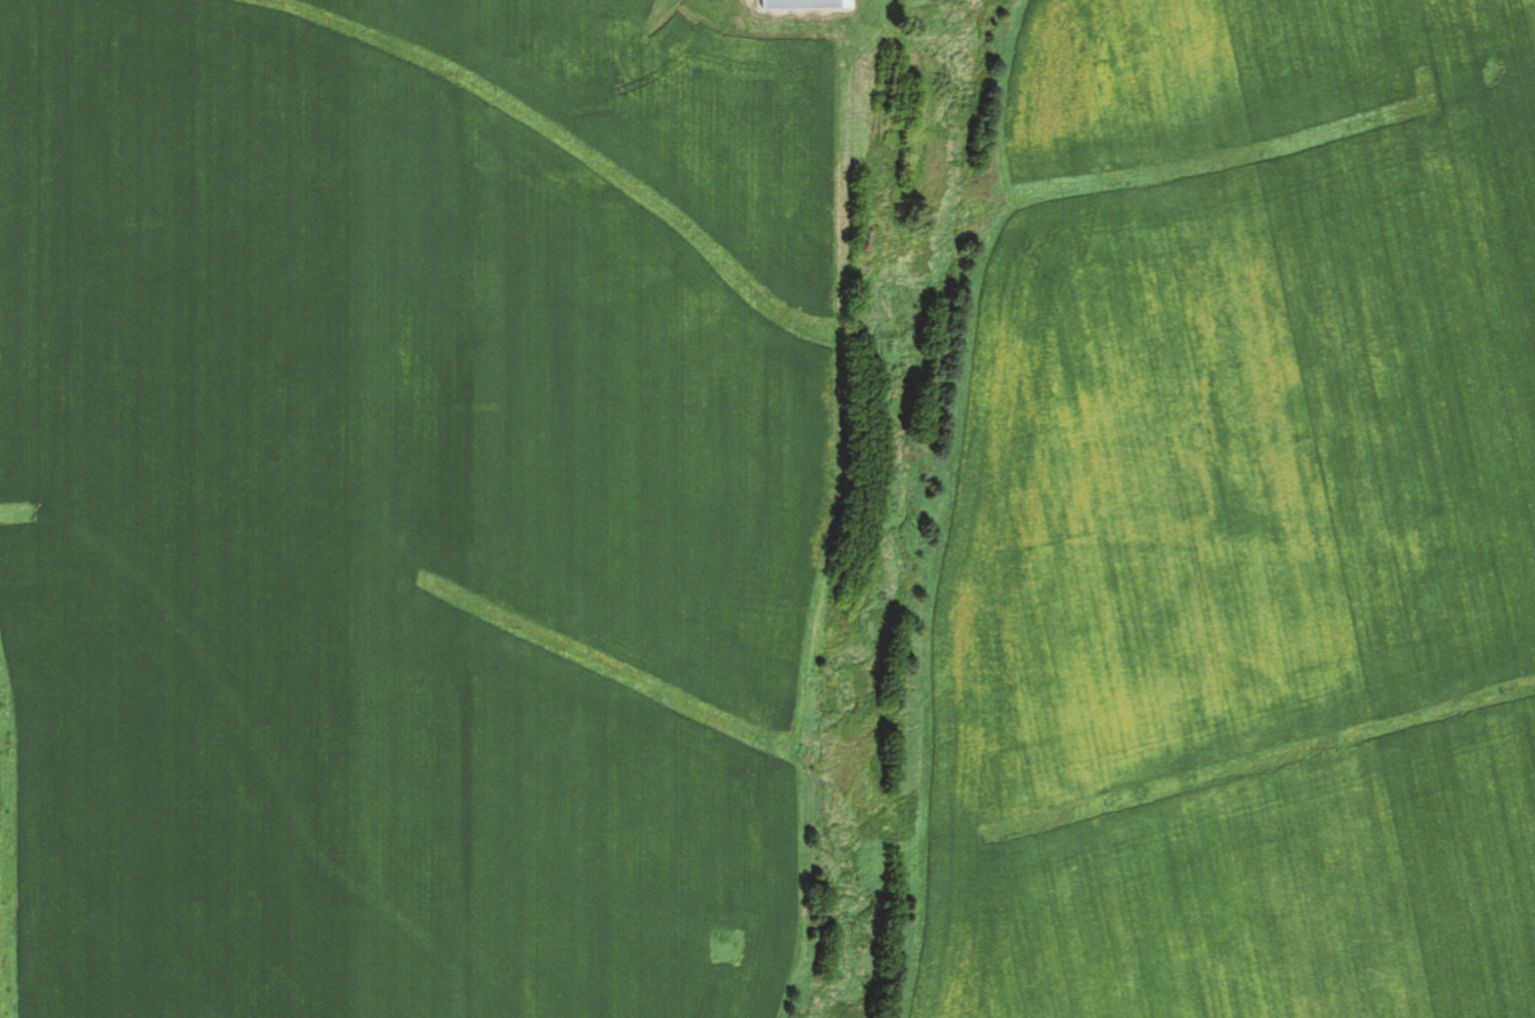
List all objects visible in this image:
building: (806, 3)

